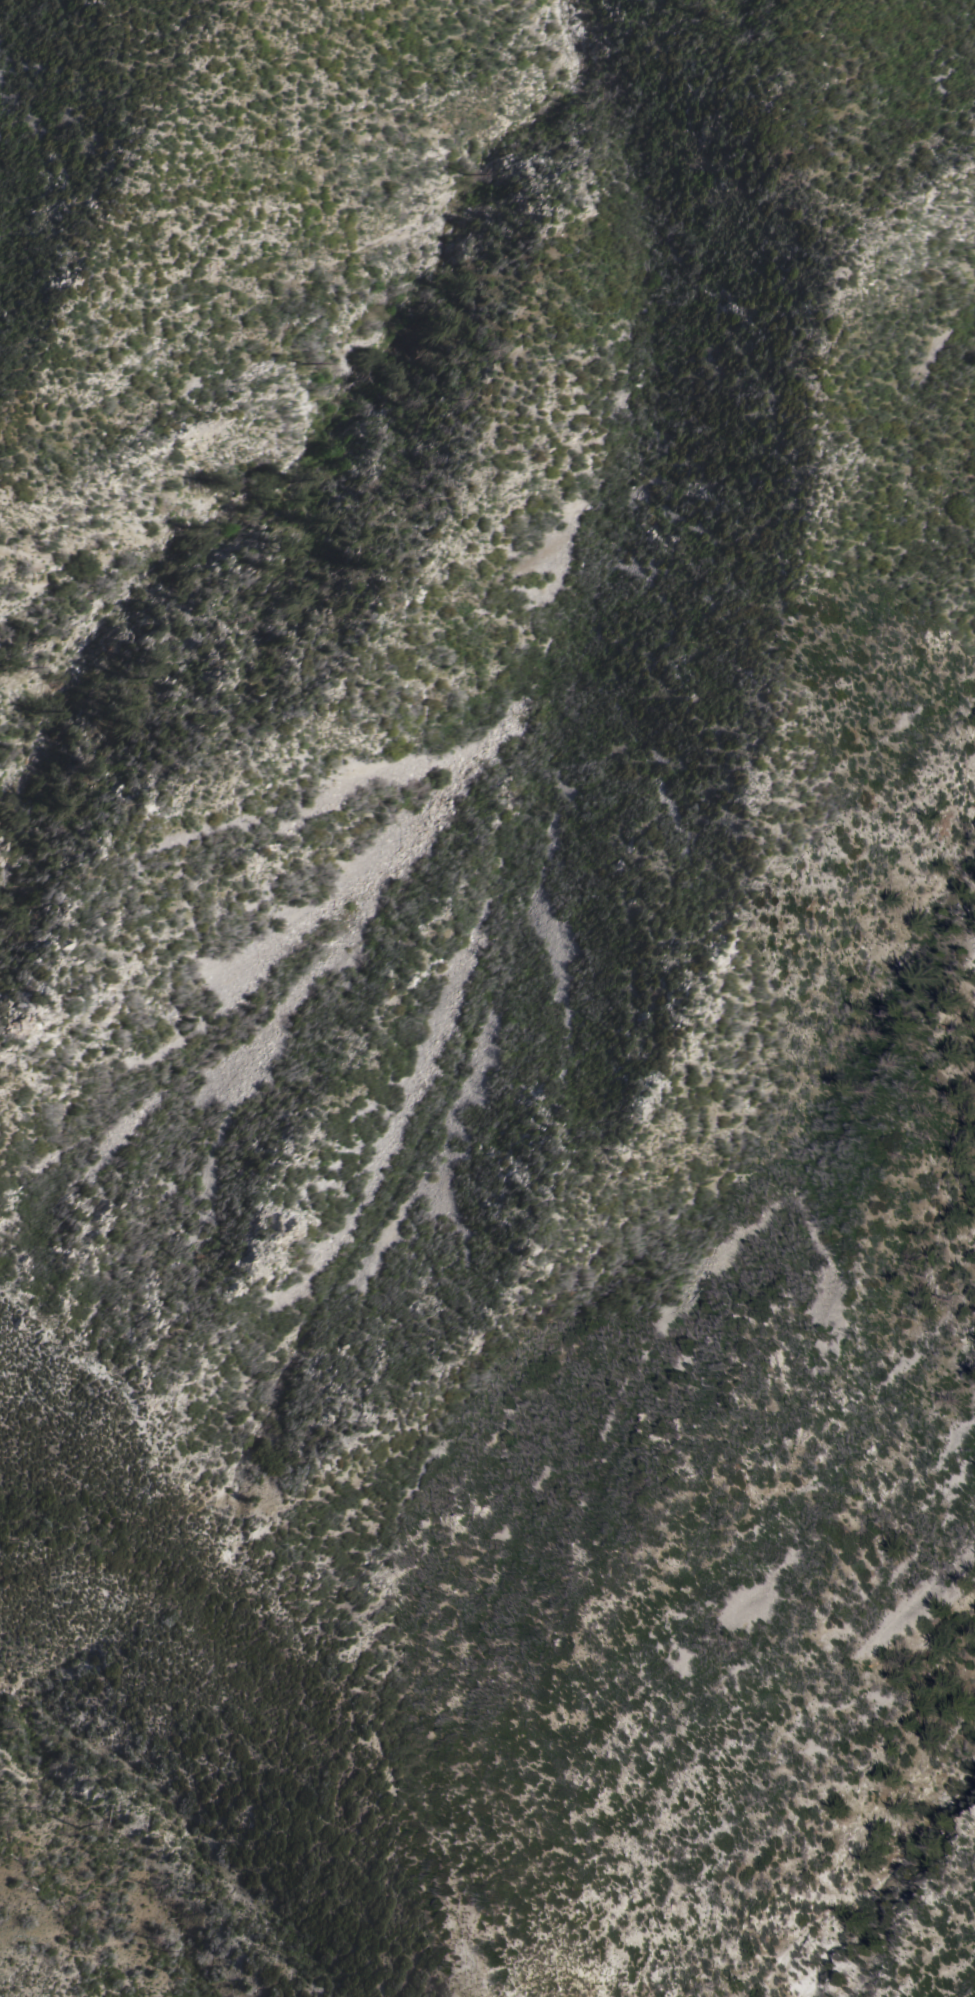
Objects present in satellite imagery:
road: (4, 1763)

